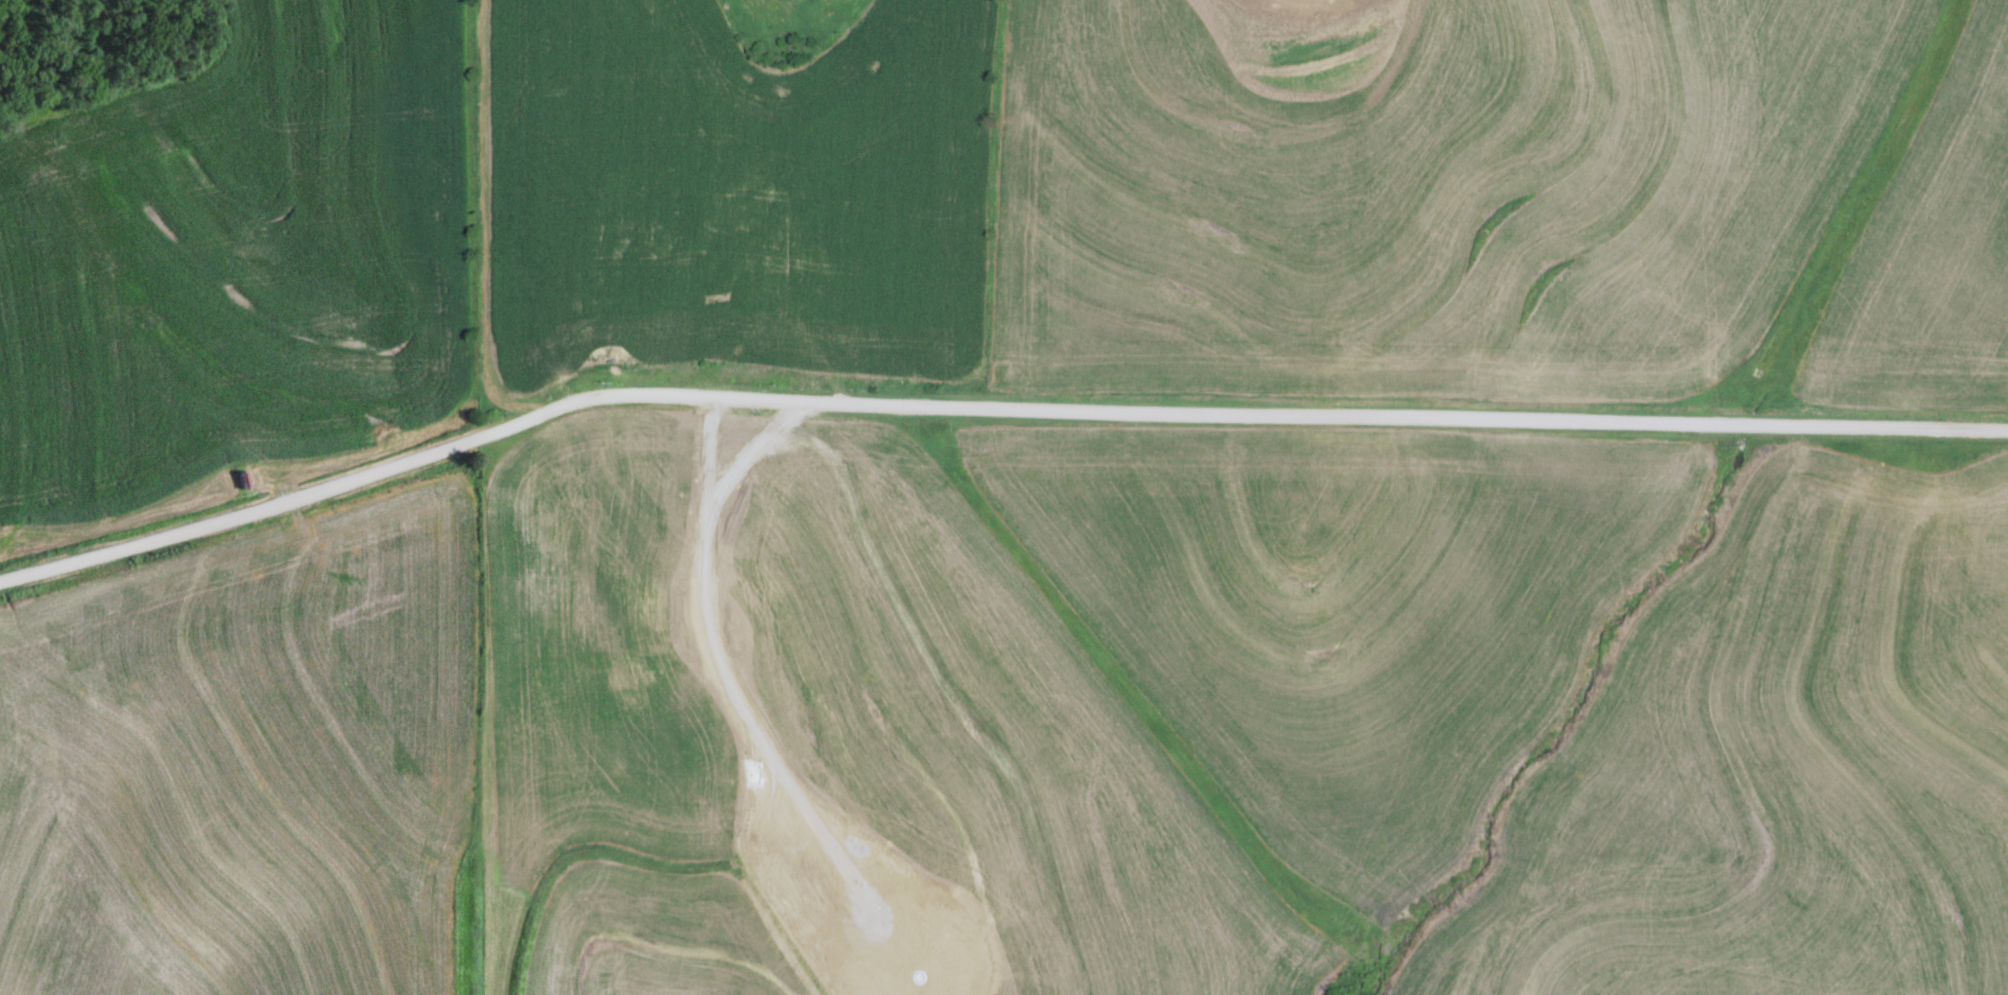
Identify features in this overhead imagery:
building: (756, 217)
building: (667, 234)
road: (583, 318)
road: (990, 410)
building: (645, 635)
wind turbine: (924, 978)

